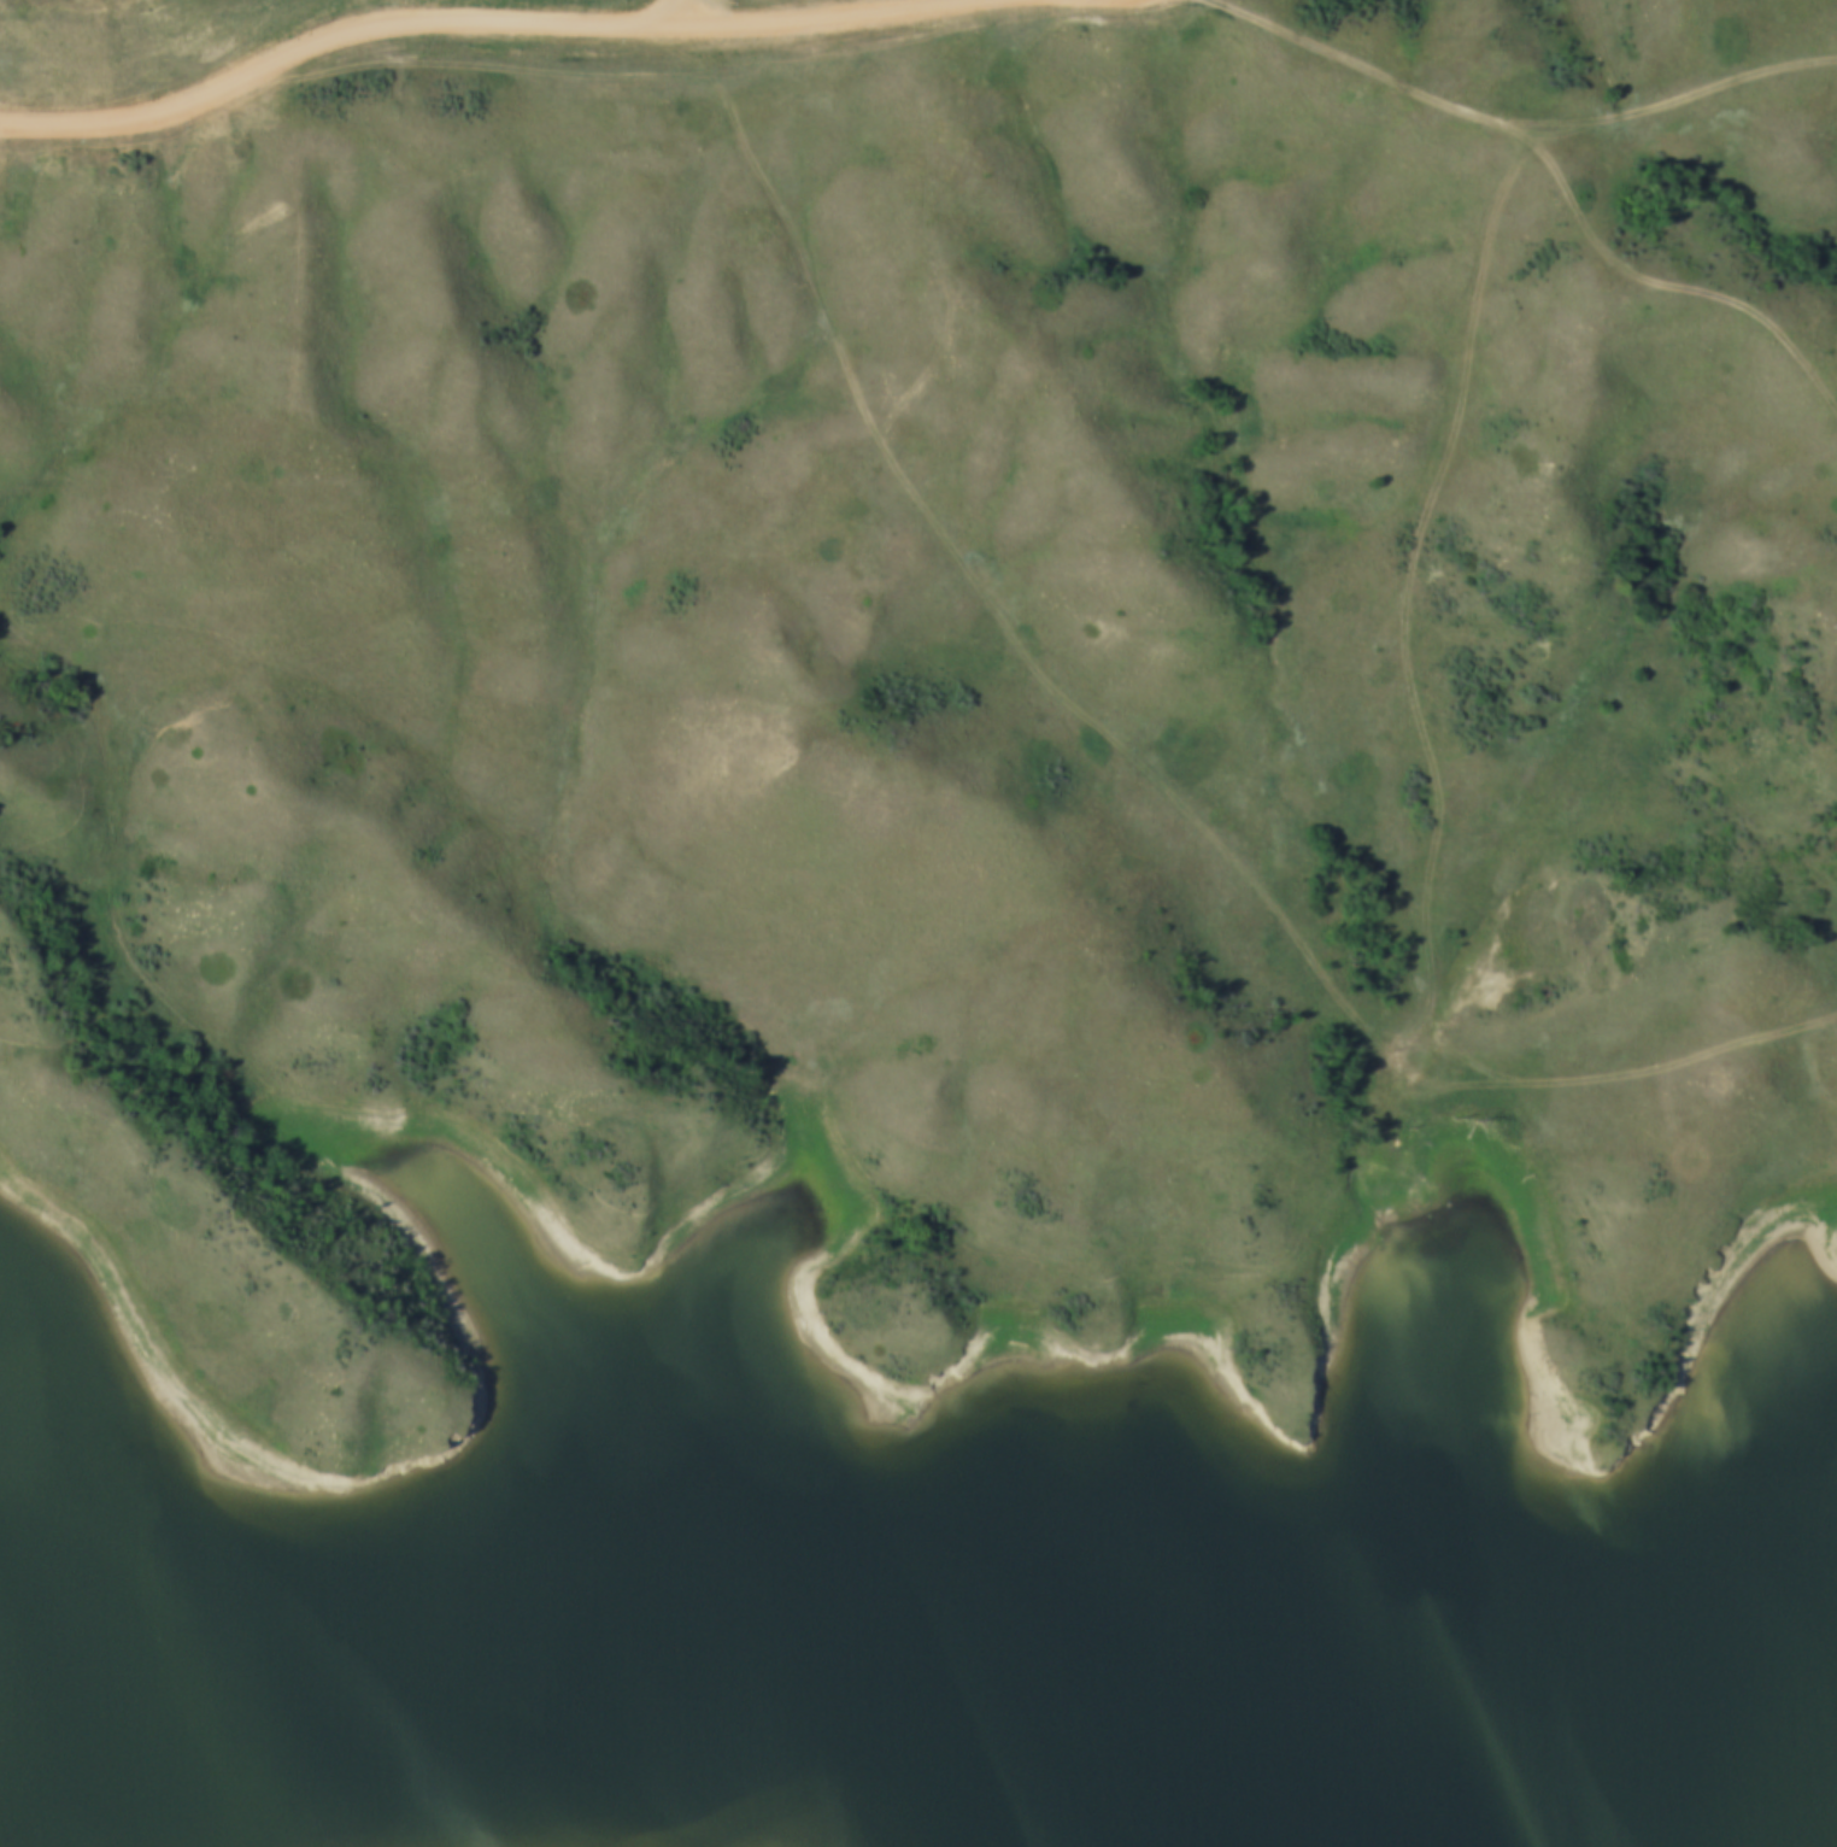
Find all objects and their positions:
road: (462, 16)
building: (916, 27)
road: (1510, 125)
road: (1655, 287)

